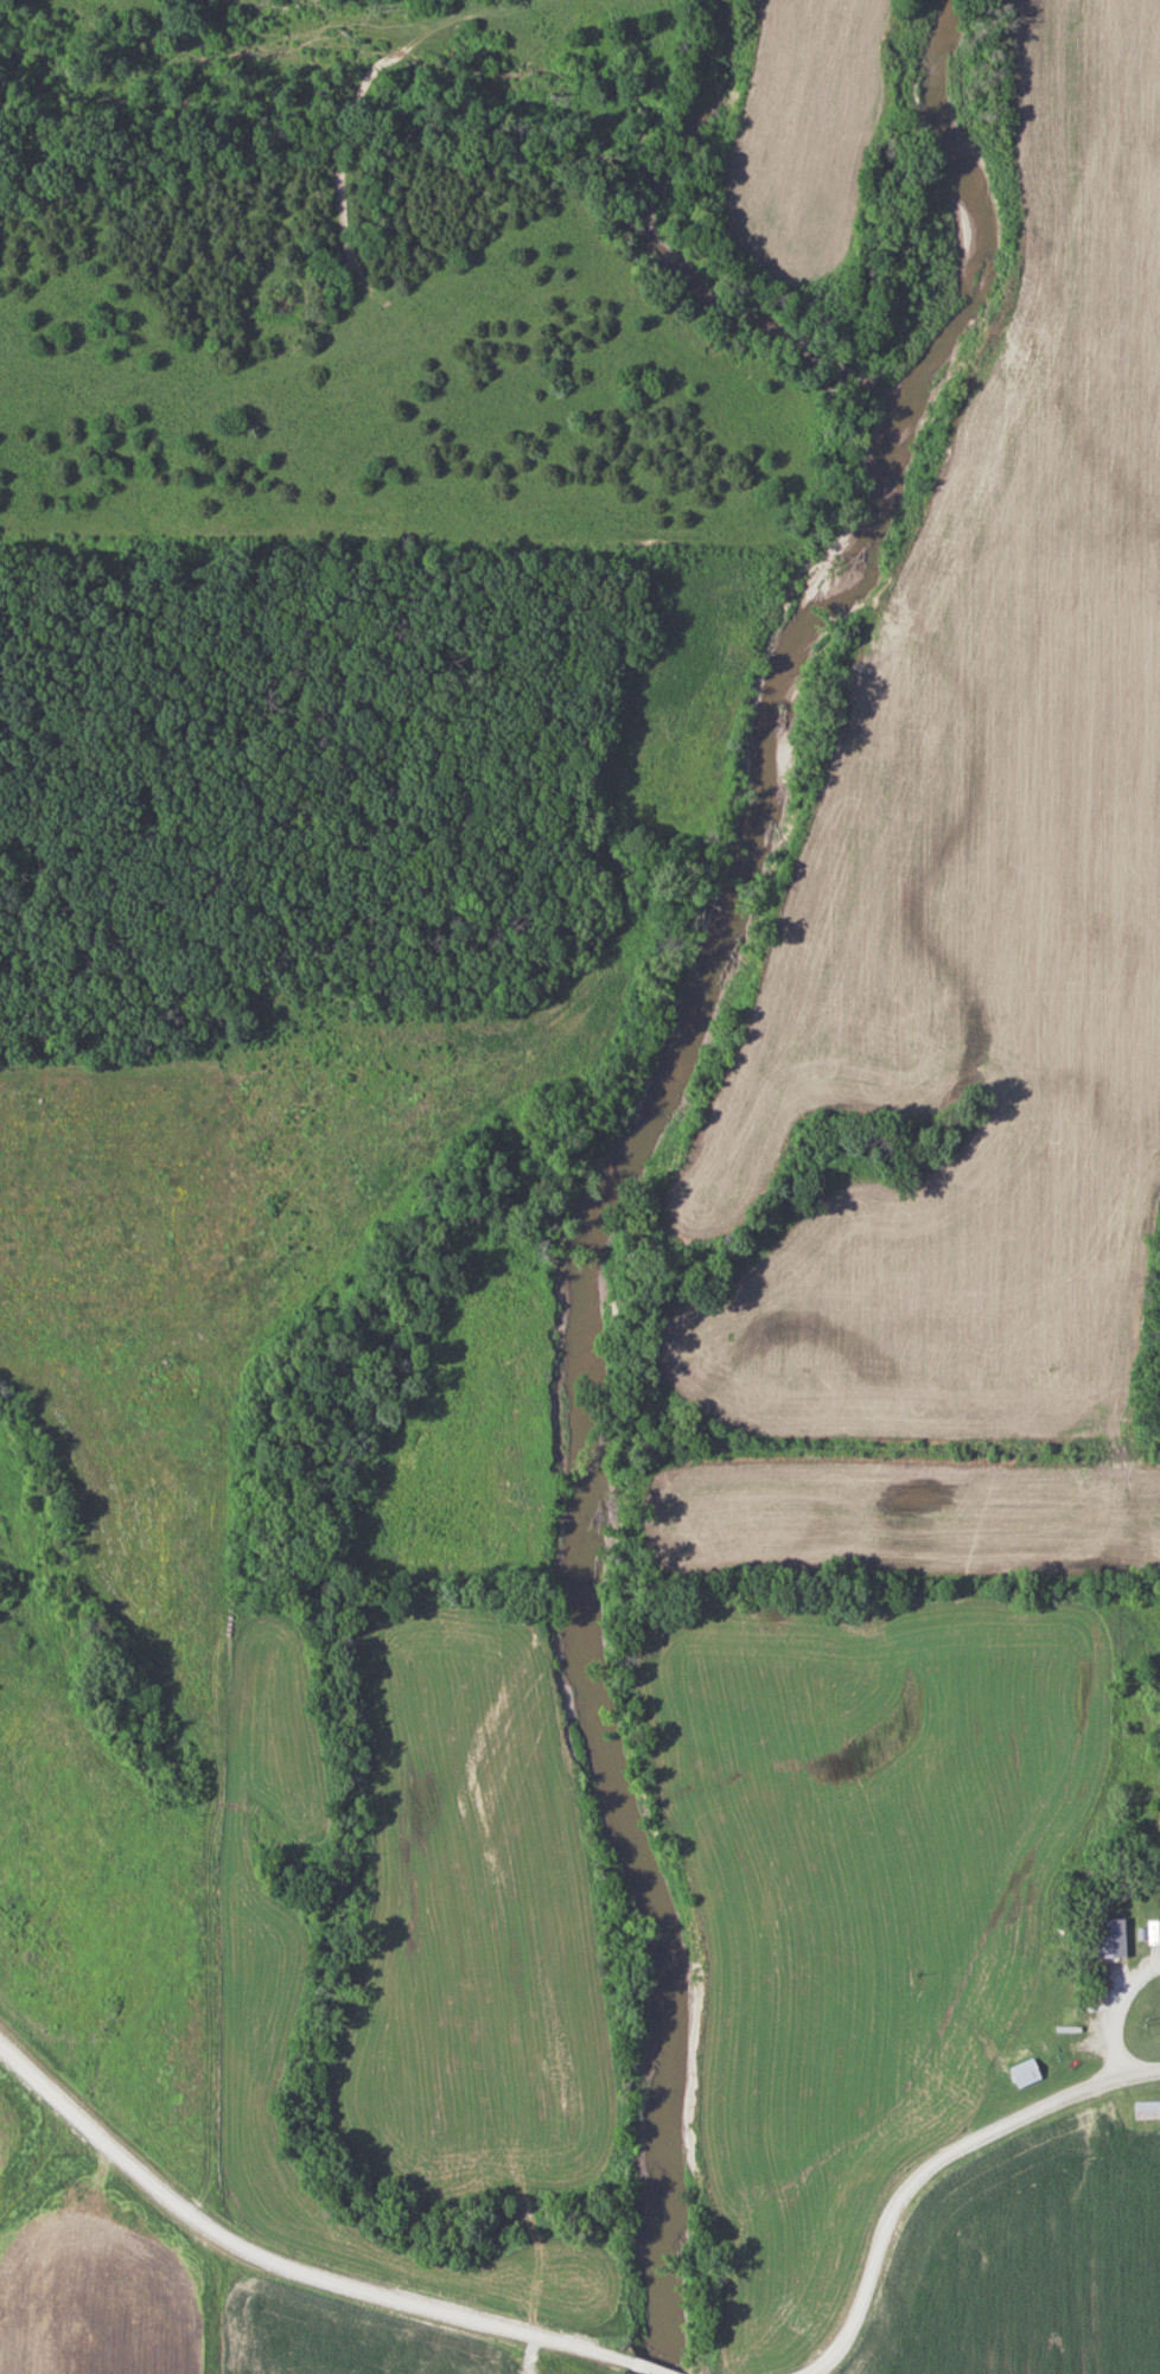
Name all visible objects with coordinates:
building: (1155, 1933)
building: (1115, 1939)
building: (1148, 2110)
road: (930, 2168)
road: (283, 2260)
road: (652, 2367)

